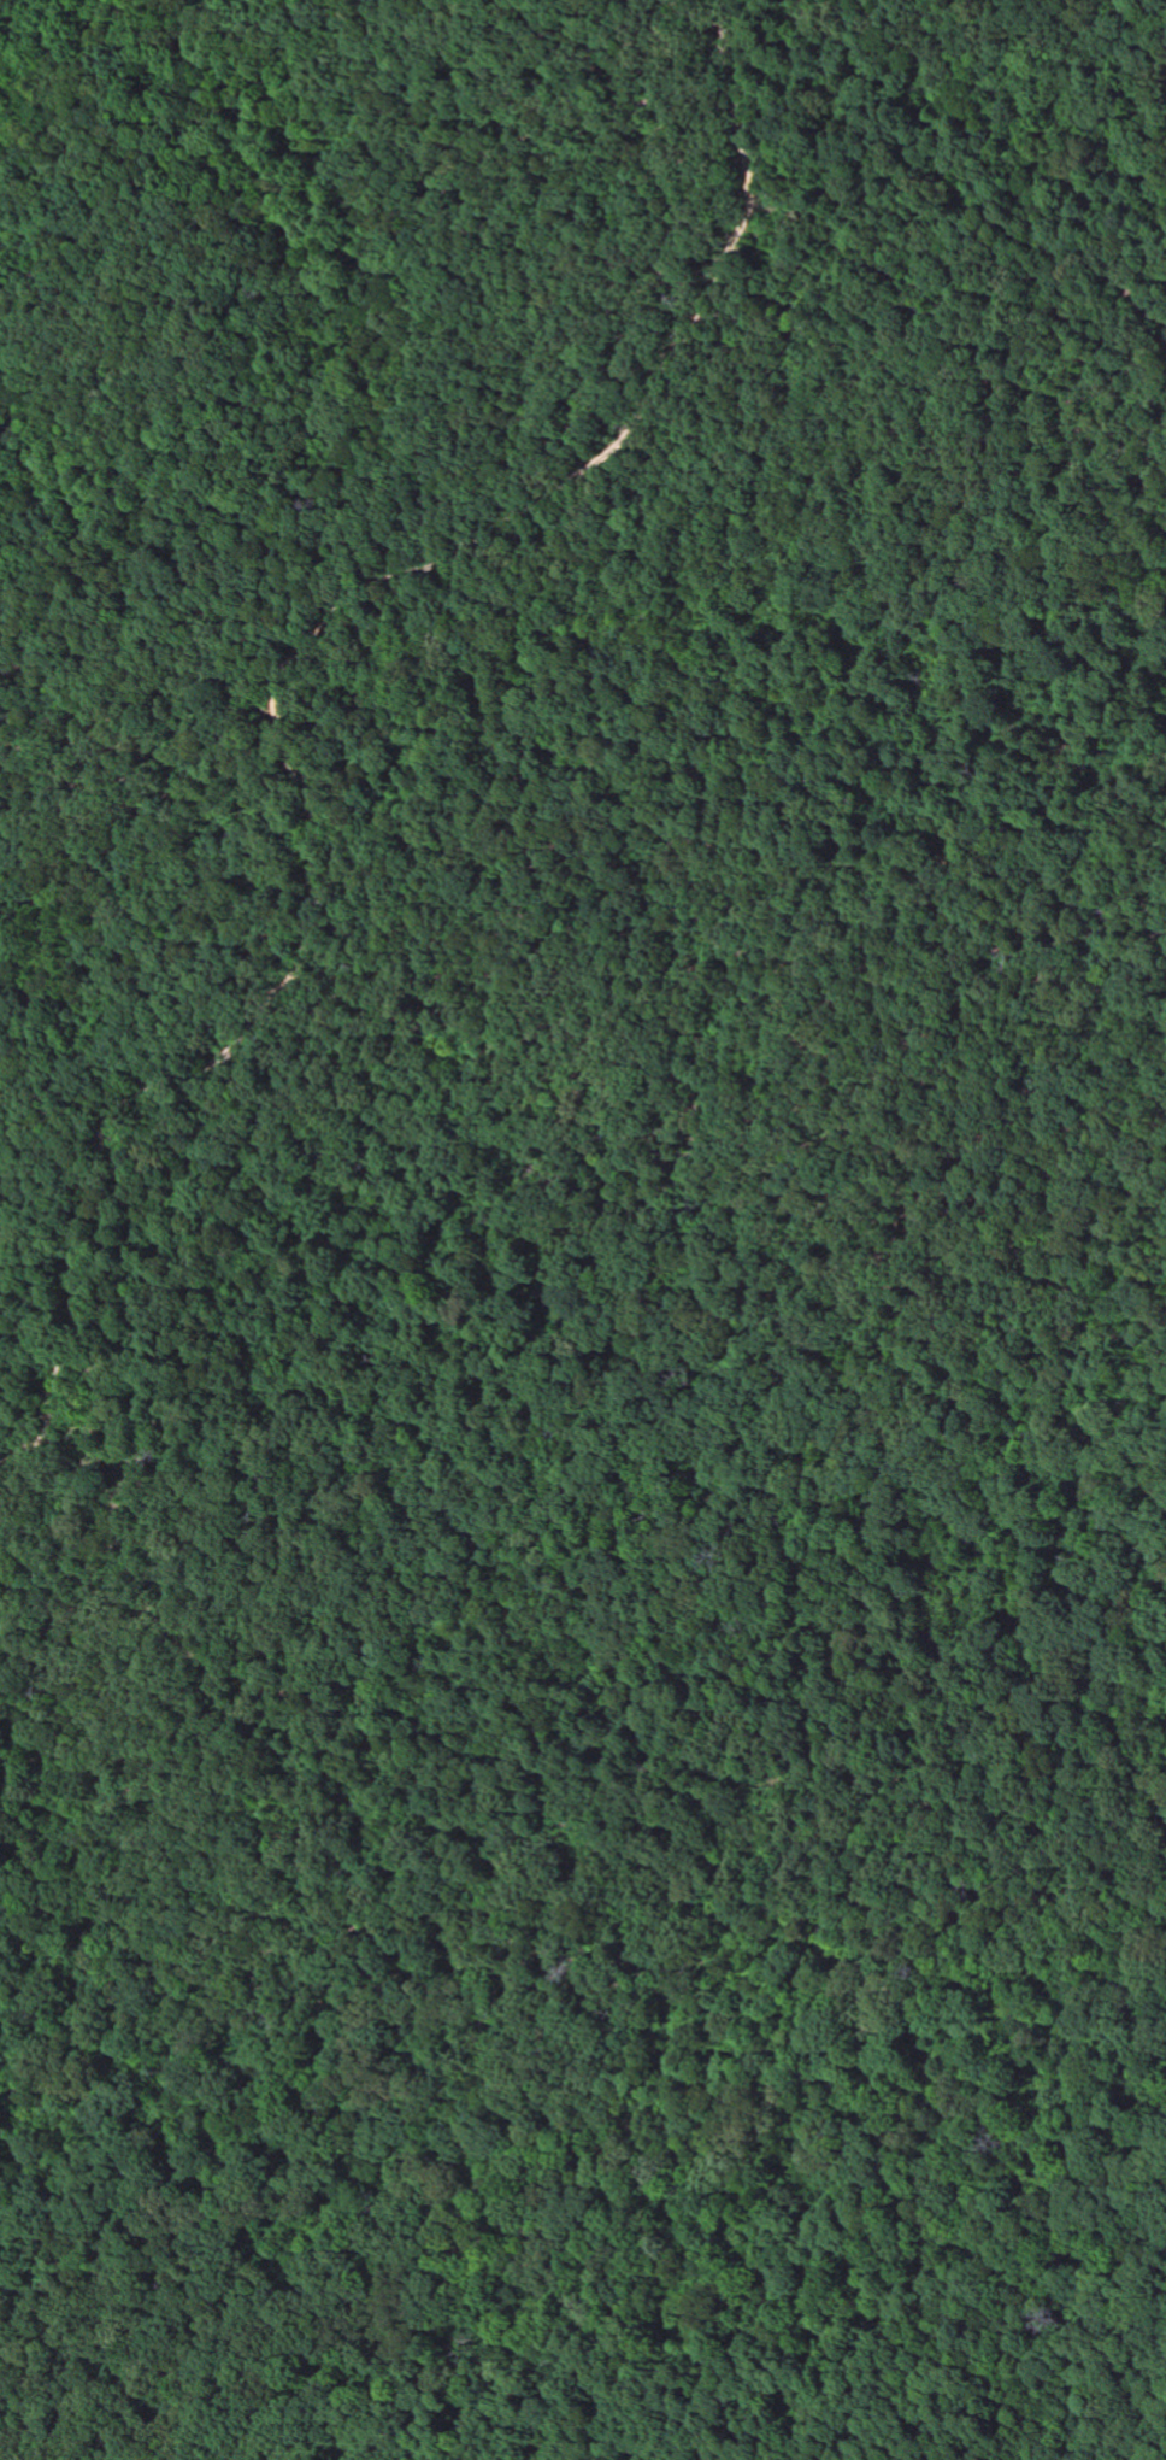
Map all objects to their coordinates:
road: (287, 680)

